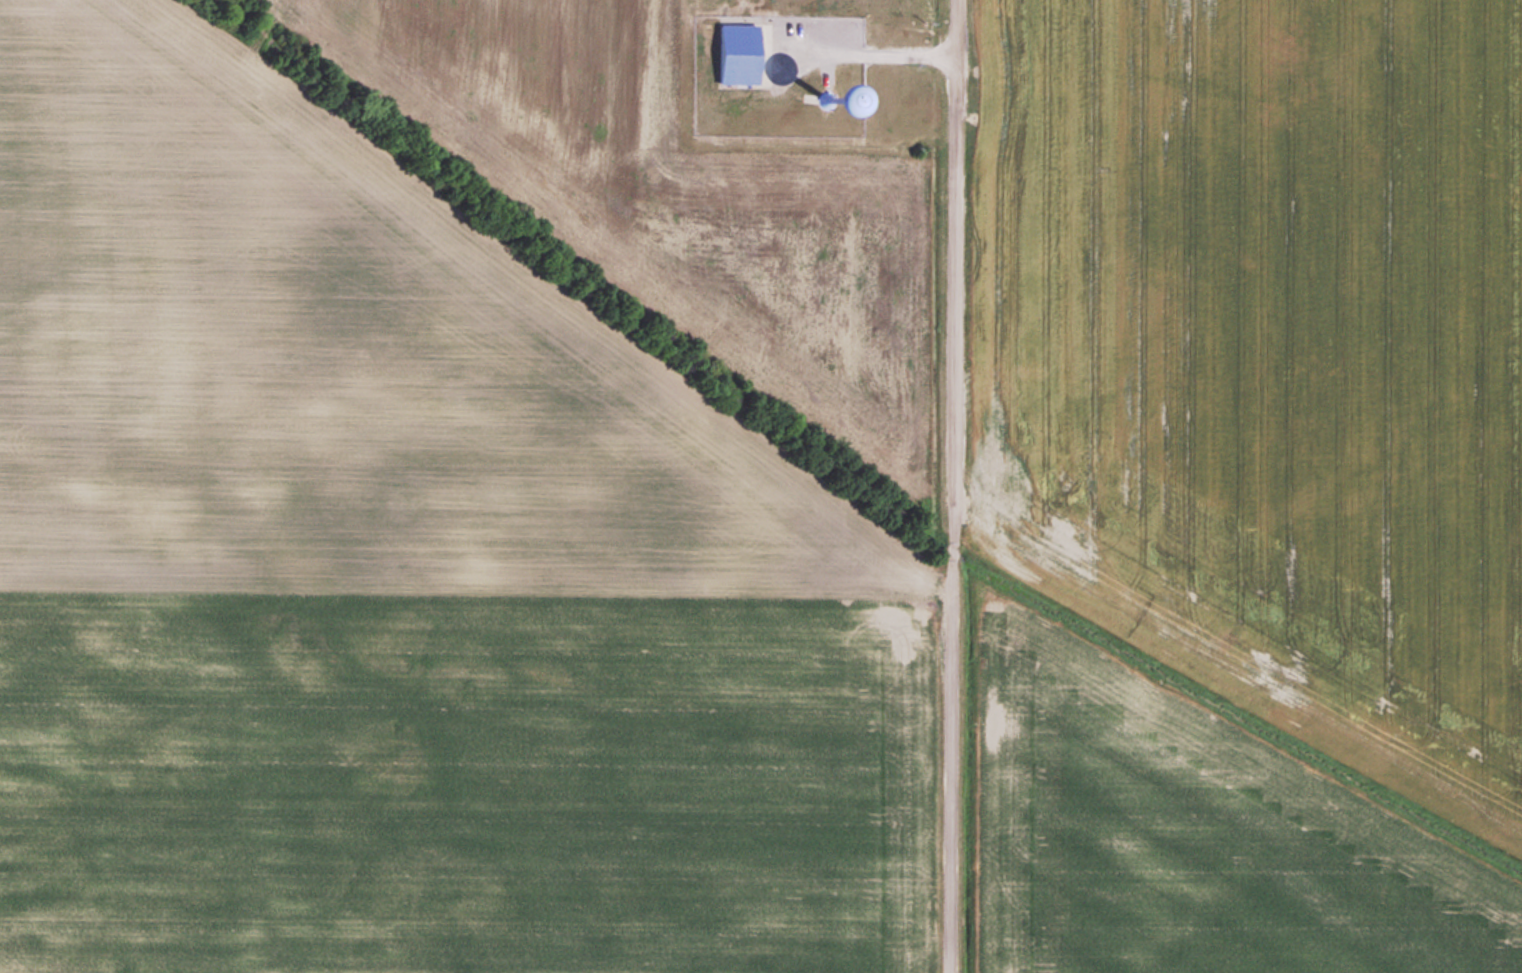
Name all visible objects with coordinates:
water tower: (829, 100)
crop: (1265, 351)
crop: (465, 486)
road: (951, 486)
crop: (1189, 835)

